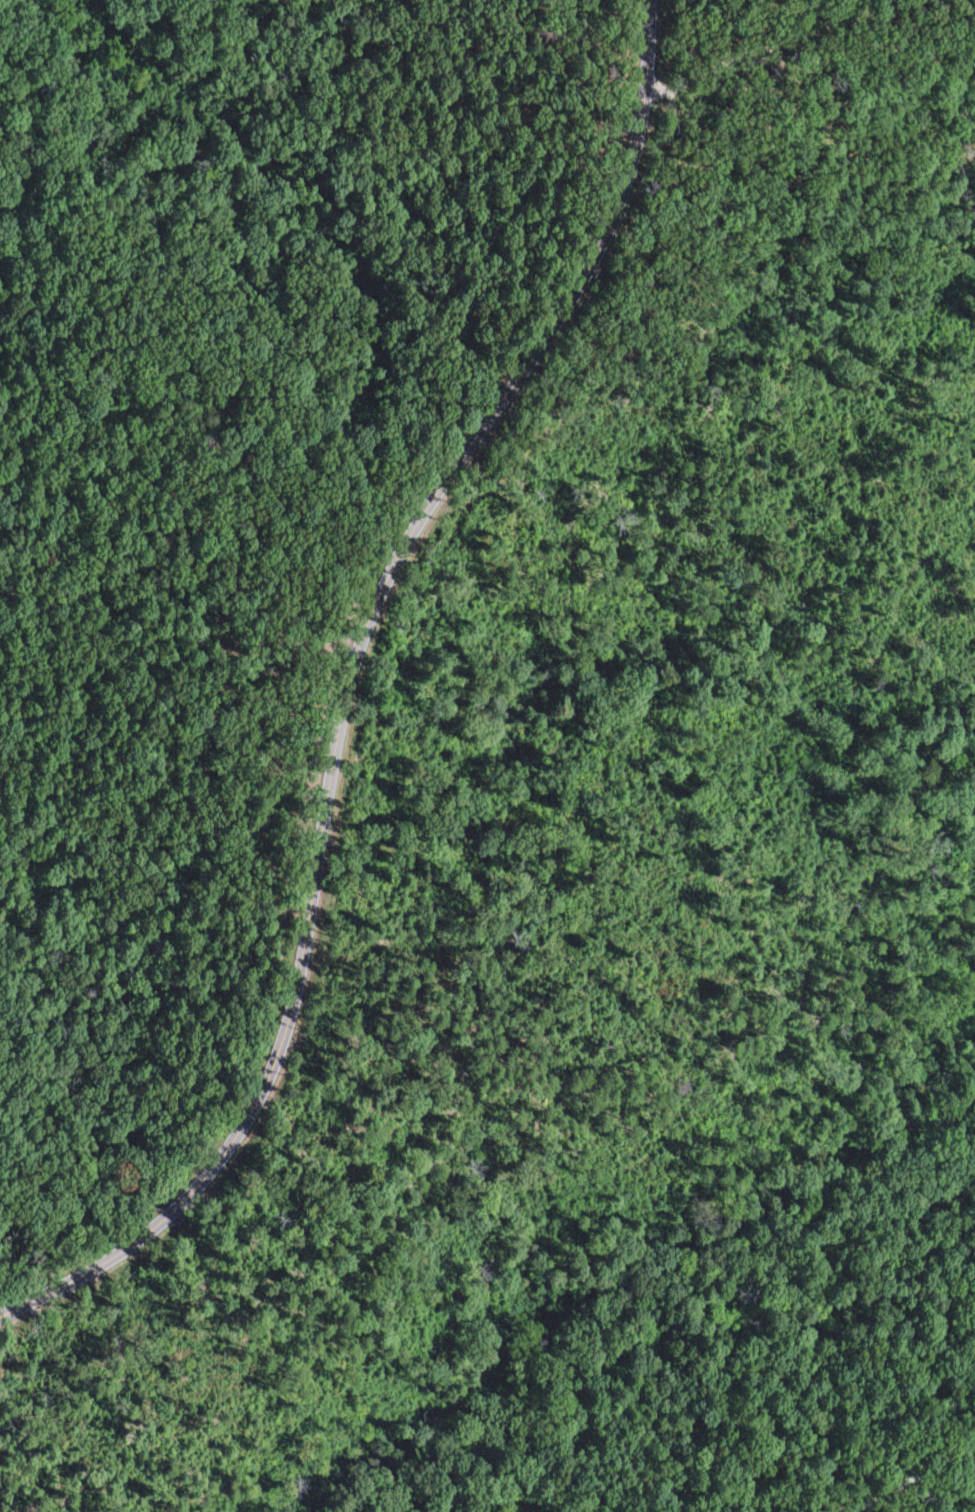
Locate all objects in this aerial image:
road: (793, 46)
road: (351, 684)
road: (923, 1484)

